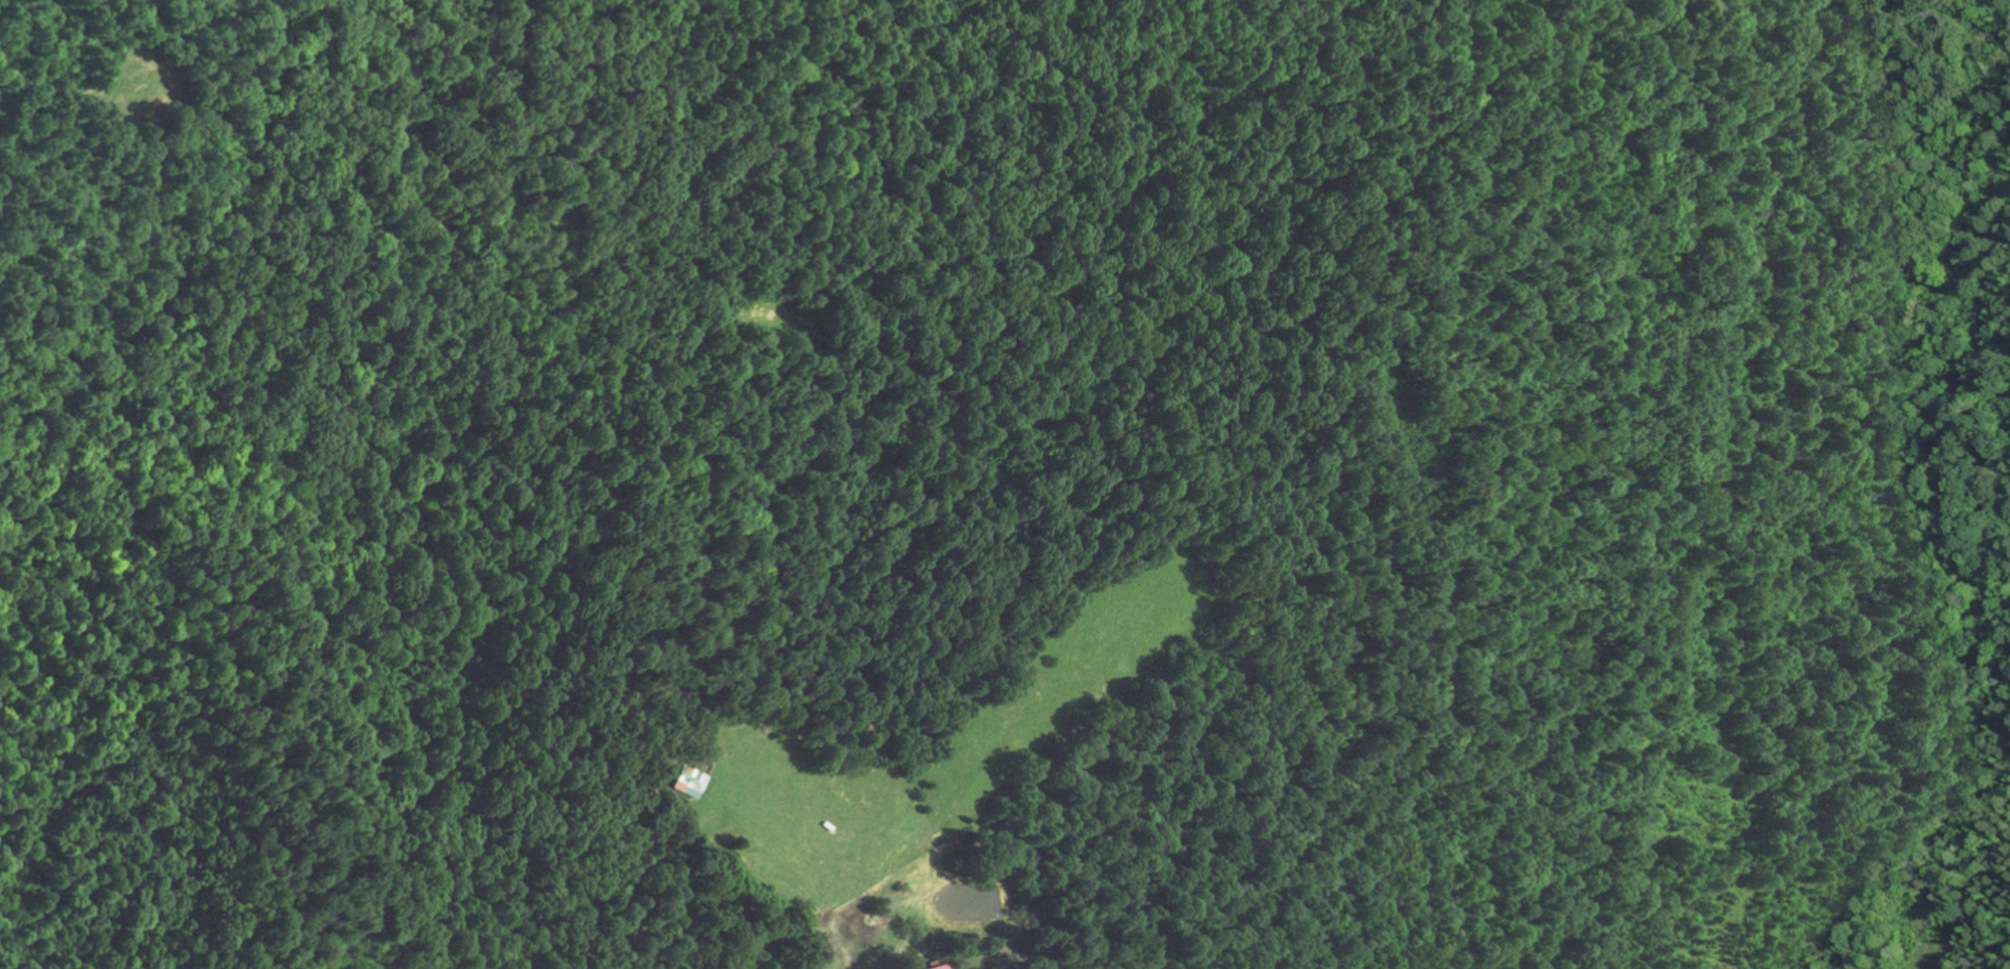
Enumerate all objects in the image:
building: (692, 781)
road: (646, 960)
building: (939, 966)

